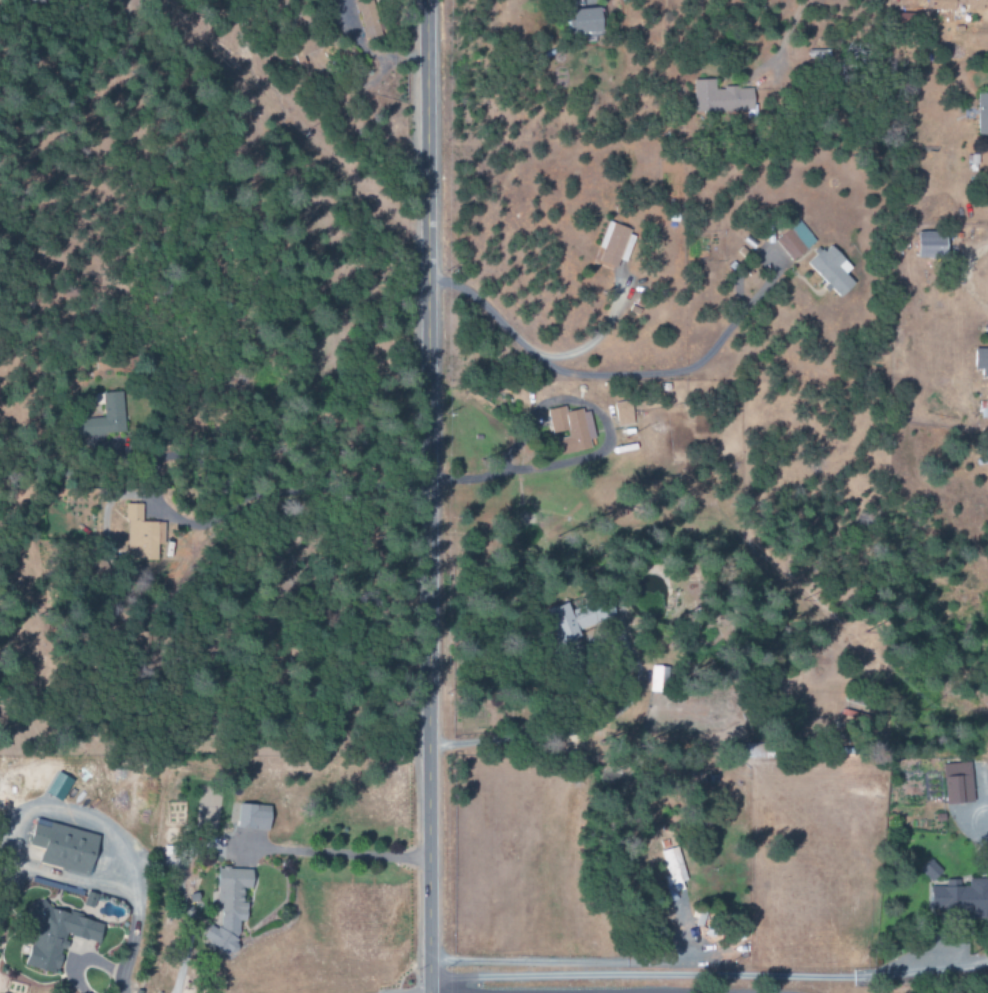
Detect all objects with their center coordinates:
building: (957, 4)
building: (367, 13)
building: (585, 21)
building: (303, 48)
building: (722, 98)
building: (983, 114)
building: (796, 241)
building: (612, 244)
building: (932, 245)
building: (833, 270)
building: (982, 361)
building: (984, 410)
building: (624, 413)
building: (106, 417)
building: (572, 430)
road: (426, 496)
building: (143, 536)
building: (561, 625)
building: (659, 679)
road: (574, 735)
building: (753, 750)
building: (959, 782)
building: (254, 816)
building: (64, 846)
road: (330, 854)
building: (674, 872)
building: (955, 891)
building: (90, 899)
building: (229, 907)
building: (58, 935)
road: (662, 991)

